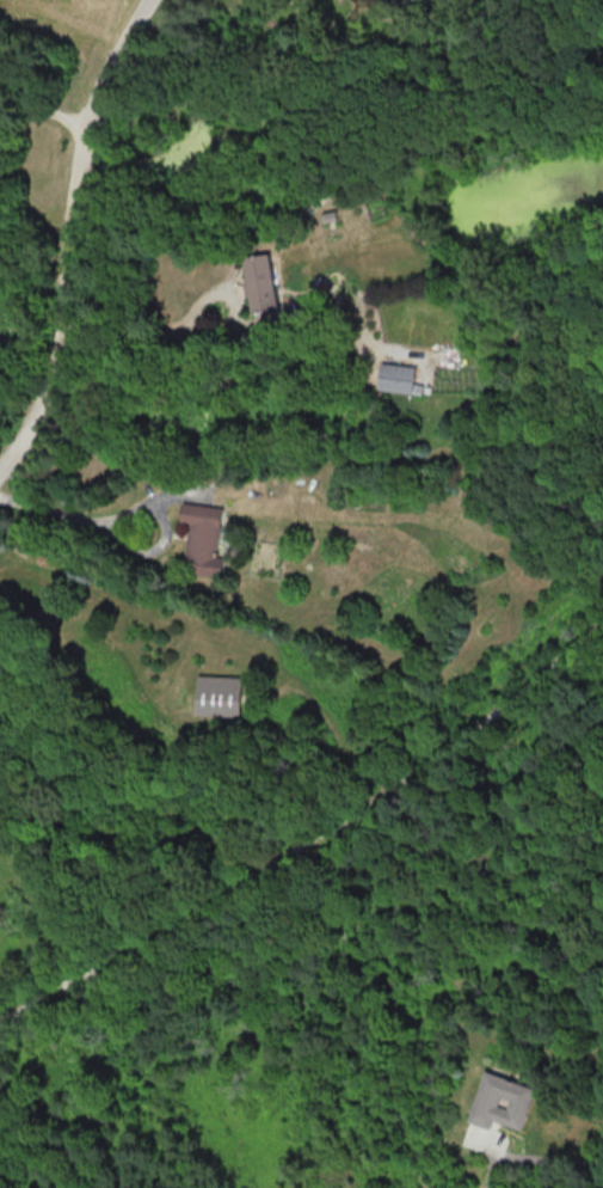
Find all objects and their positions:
road: (43, 108)
road: (68, 233)
building: (259, 282)
road: (149, 330)
building: (396, 376)
road: (70, 519)
building: (203, 538)
building: (220, 694)
park: (312, 827)
road: (313, 840)
building: (500, 1101)
road: (490, 1168)

